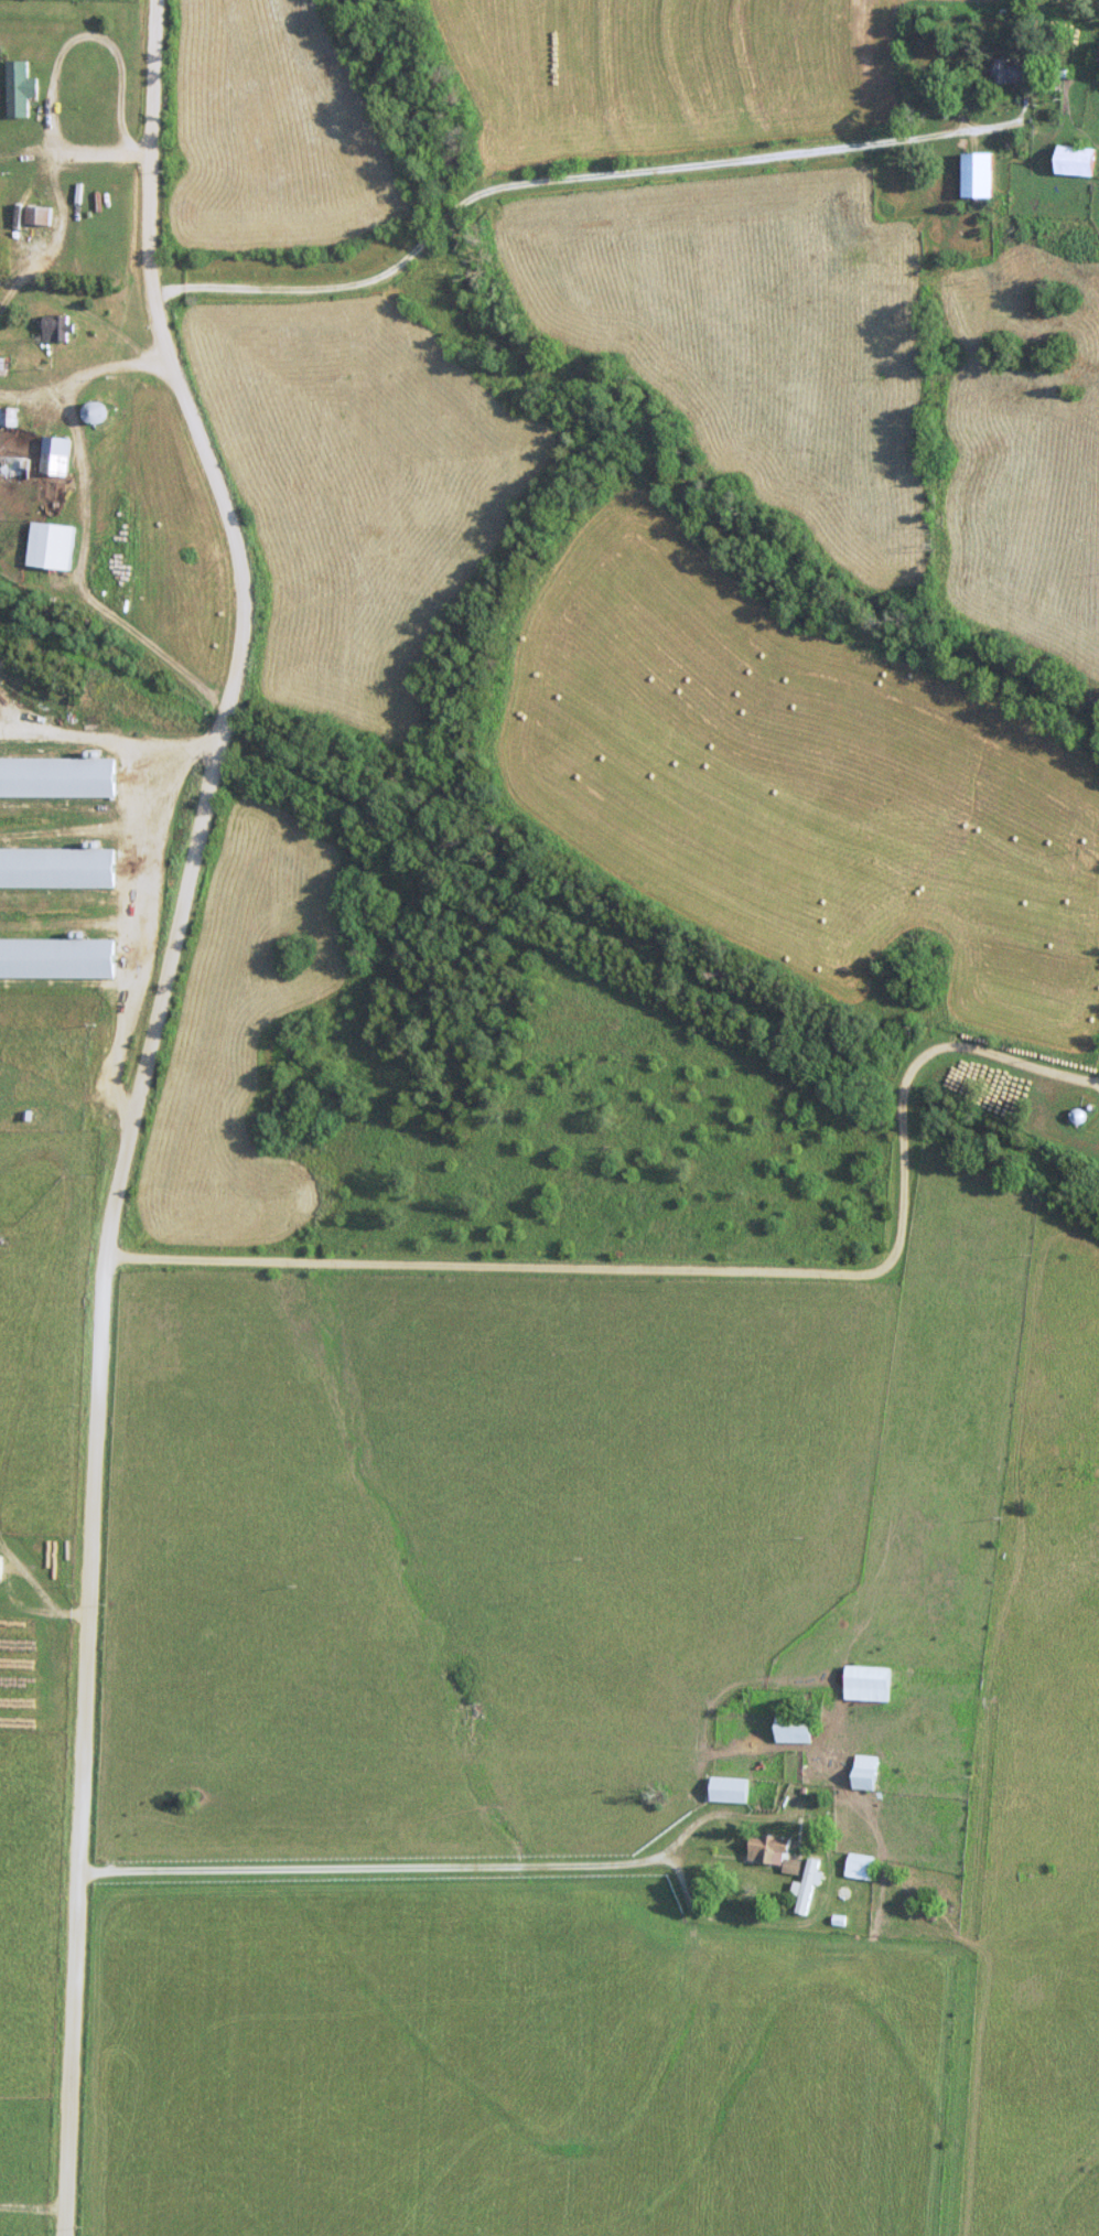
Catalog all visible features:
building: (1009, 72)
building: (15, 88)
building: (1073, 161)
road: (648, 170)
building: (976, 174)
building: (36, 215)
building: (55, 329)
building: (0, 366)
building: (91, 413)
building: (8, 417)
building: (55, 456)
building: (14, 467)
road: (84, 535)
building: (50, 547)
building: (55, 777)
building: (55, 868)
building: (55, 958)
road: (131, 1105)
building: (1075, 1115)
road: (698, 1270)
building: (580, 1515)
building: (0, 1565)
building: (624, 1614)
building: (865, 1683)
building: (791, 1728)
building: (863, 1772)
building: (726, 1789)
building: (769, 1852)
road: (460, 1864)
building: (859, 1868)
building: (806, 1885)

